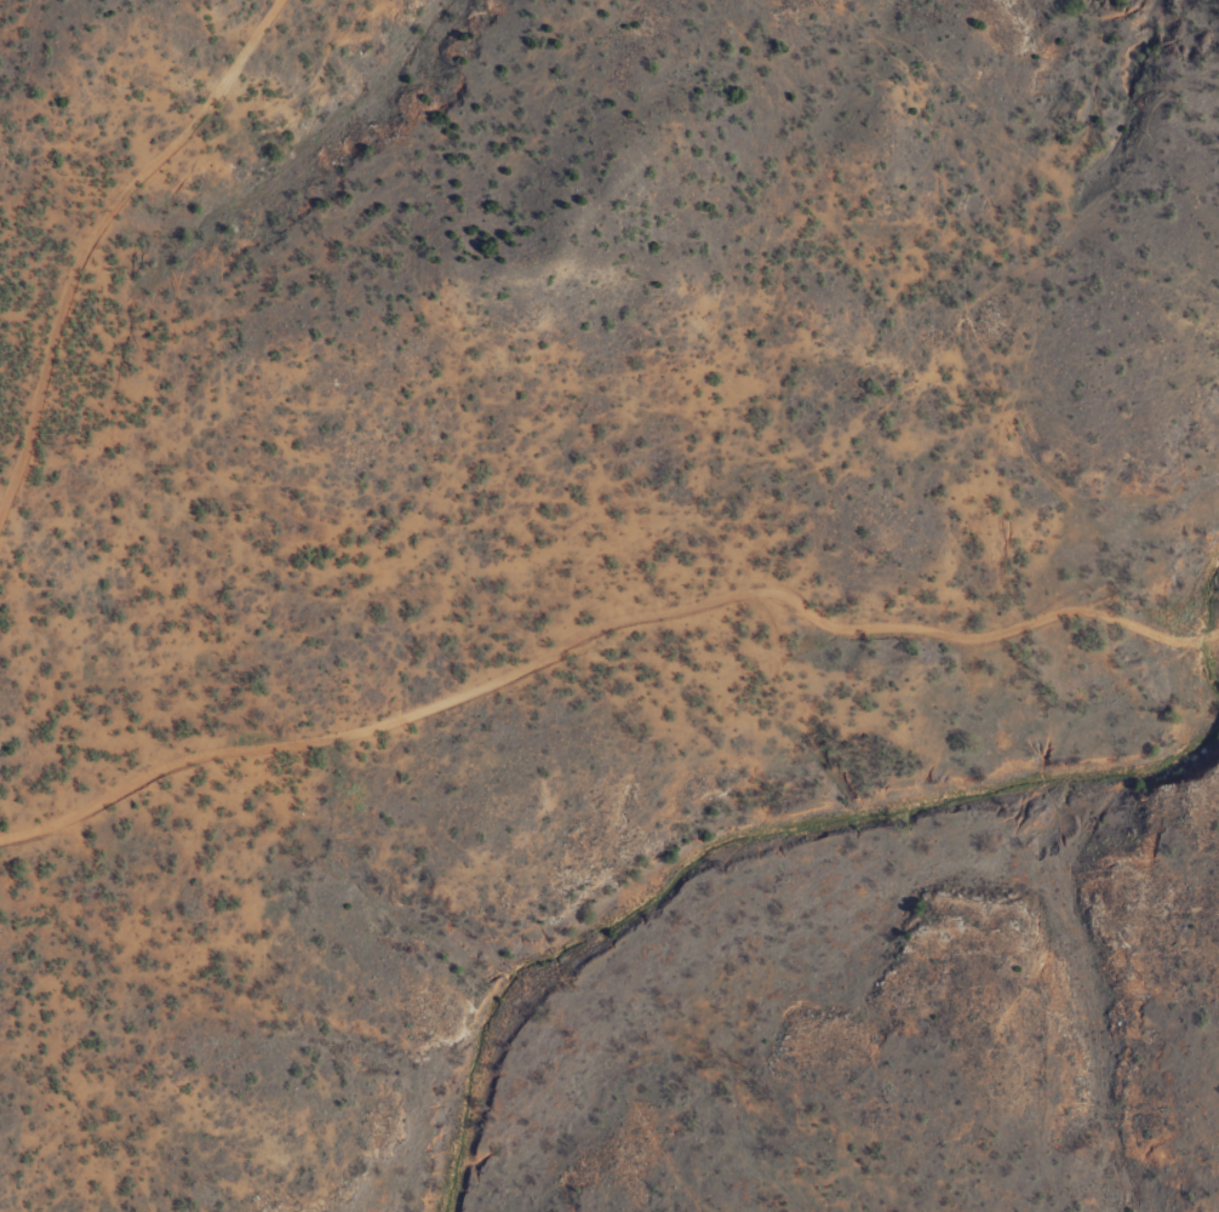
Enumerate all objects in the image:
road: (600, 622)

